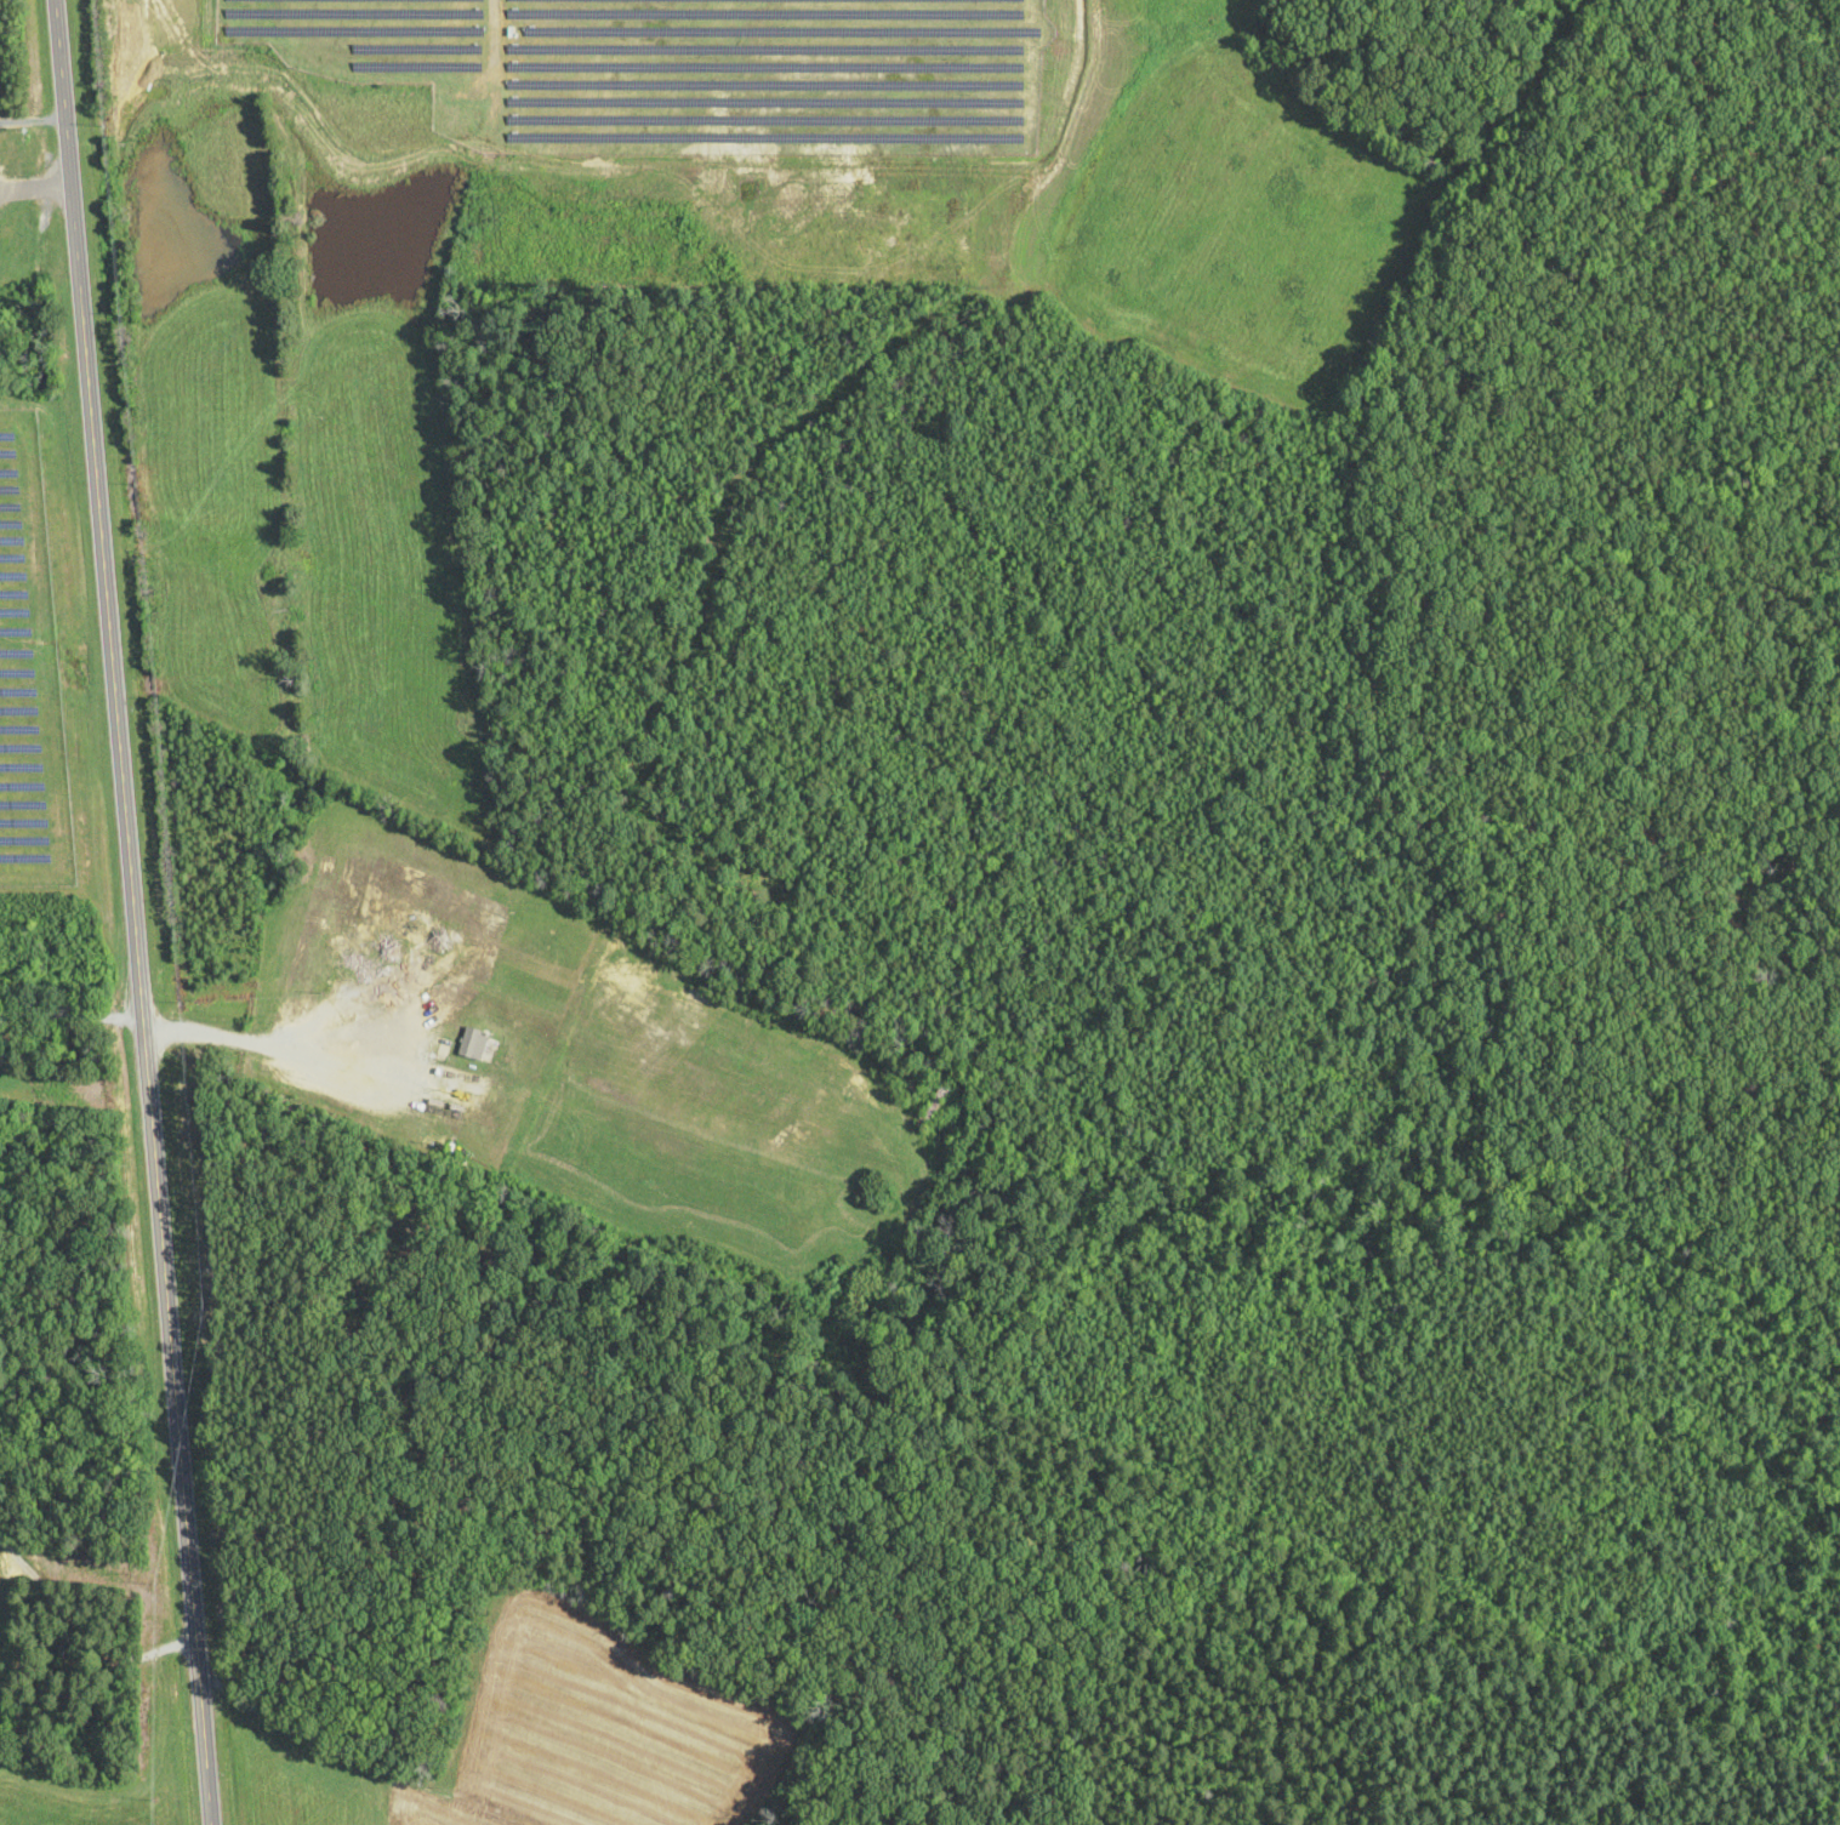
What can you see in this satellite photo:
solar farm: (28, 679)
road: (129, 912)
building: (474, 1043)
building: (933, 1106)

